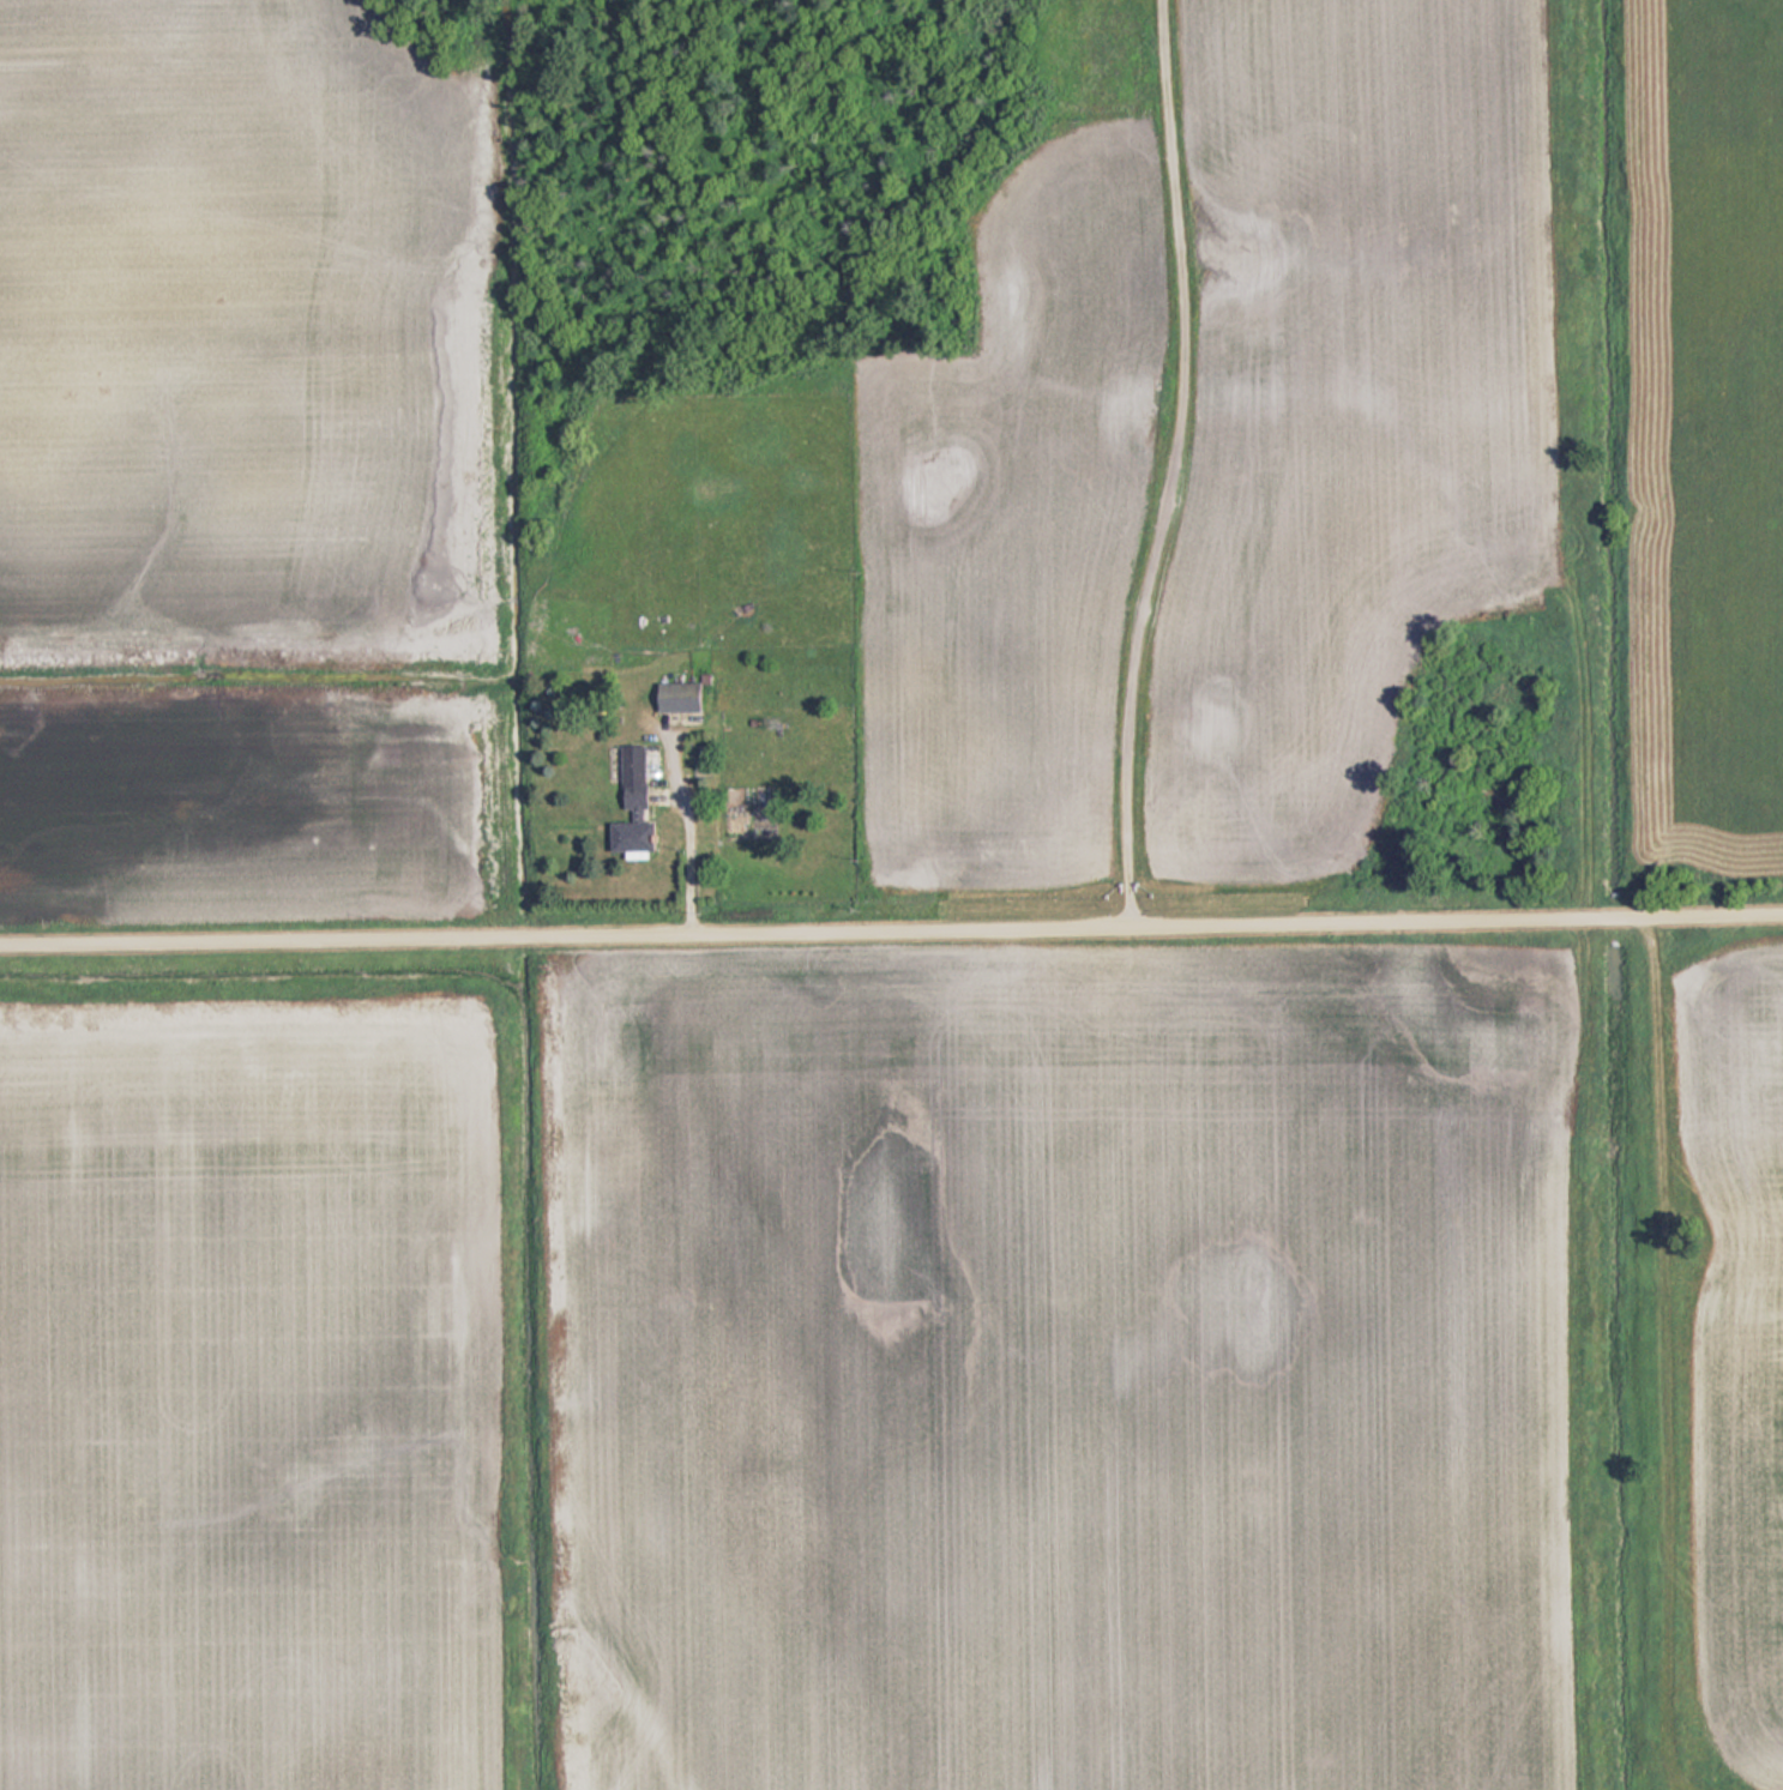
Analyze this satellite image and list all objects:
building: (685, 697)
building: (638, 806)
road: (891, 933)

